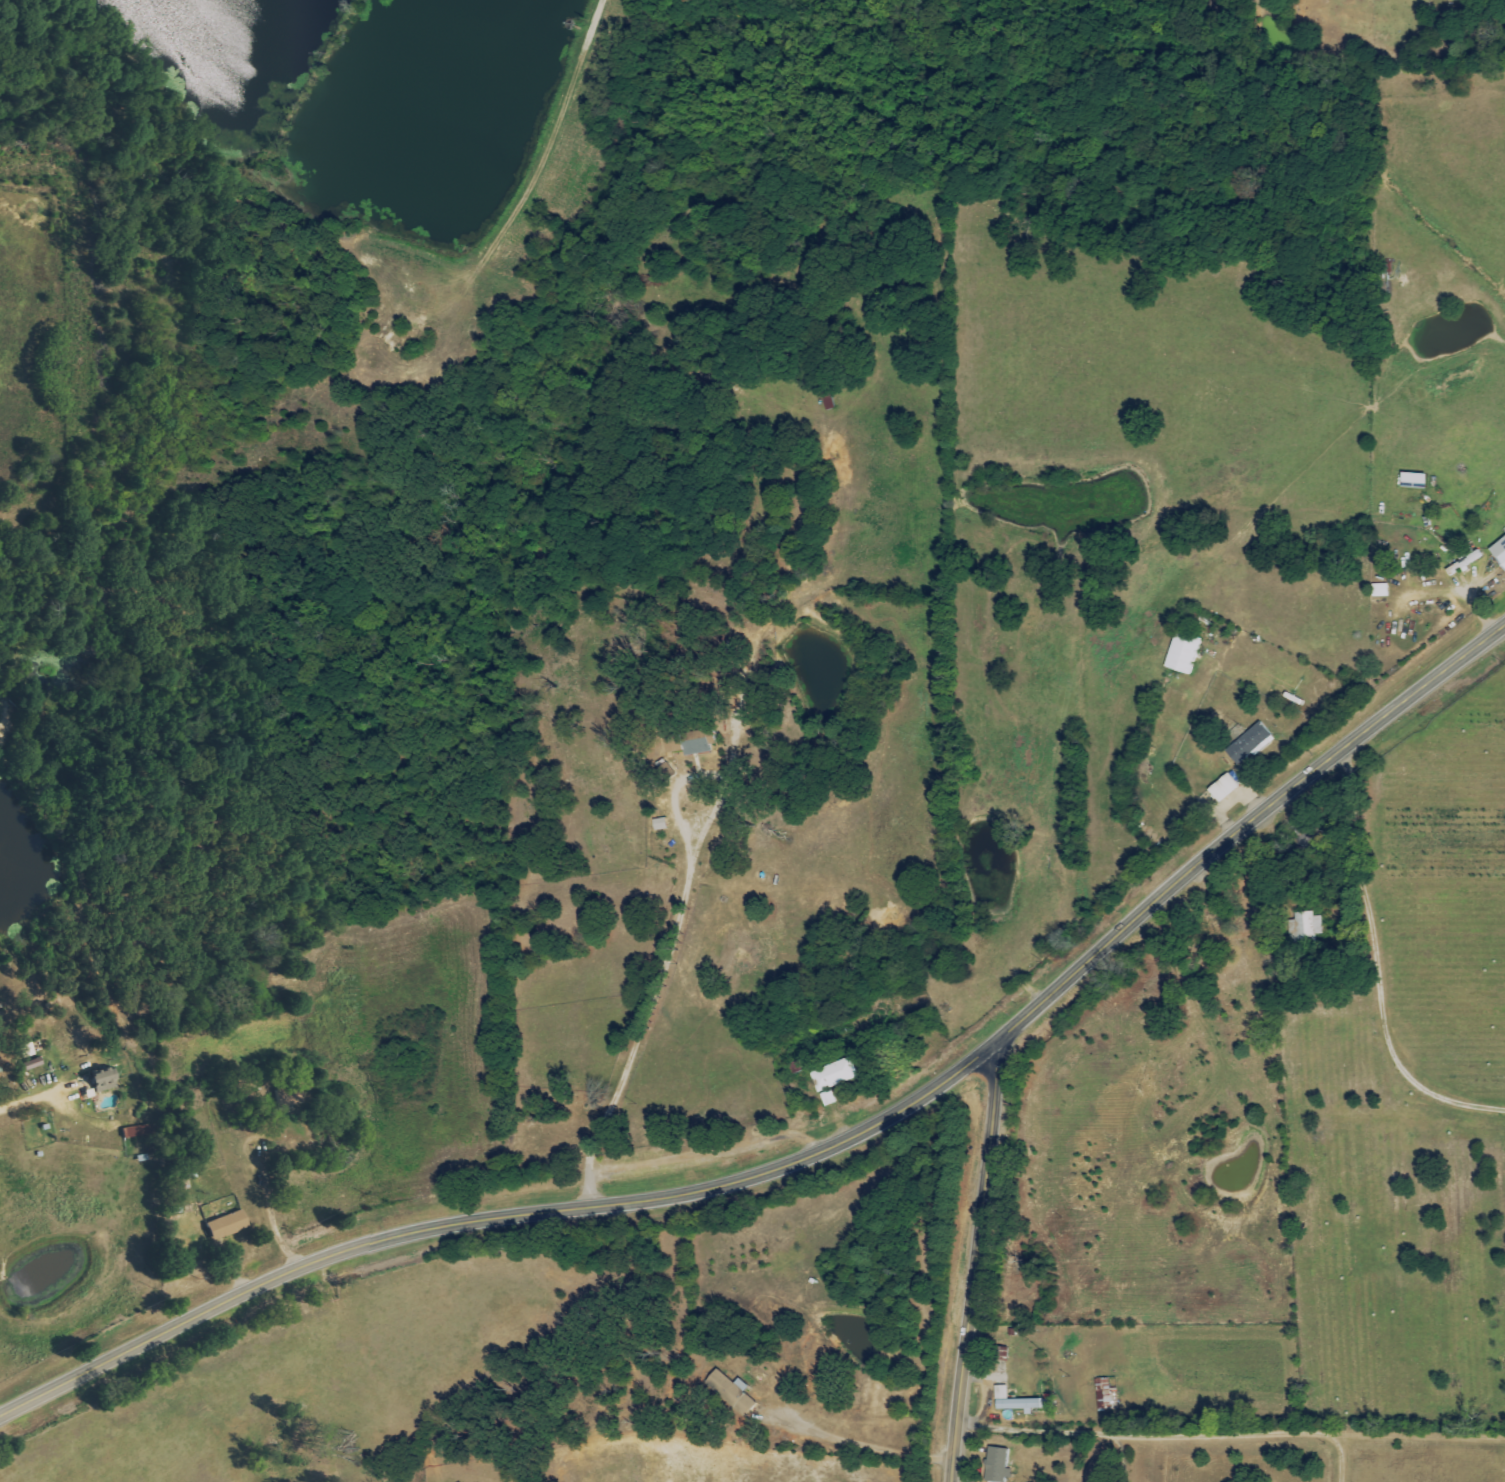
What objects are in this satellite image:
building: (1446, 0)
building: (1498, 552)
building: (1462, 563)
building: (1181, 652)
building: (689, 742)
building: (1247, 742)
building: (1221, 787)
building: (1305, 925)
road: (1378, 973)
road: (646, 1011)
building: (833, 1074)
building: (99, 1081)
road: (32, 1096)
building: (827, 1098)
building: (134, 1132)
road: (814, 1152)
building: (224, 1225)
road: (975, 1262)
building: (729, 1391)
road: (987, 1394)
building: (1105, 1394)
building: (1011, 1402)
road: (1059, 1432)
road: (1245, 1435)
road: (860, 1444)
building: (996, 1465)

